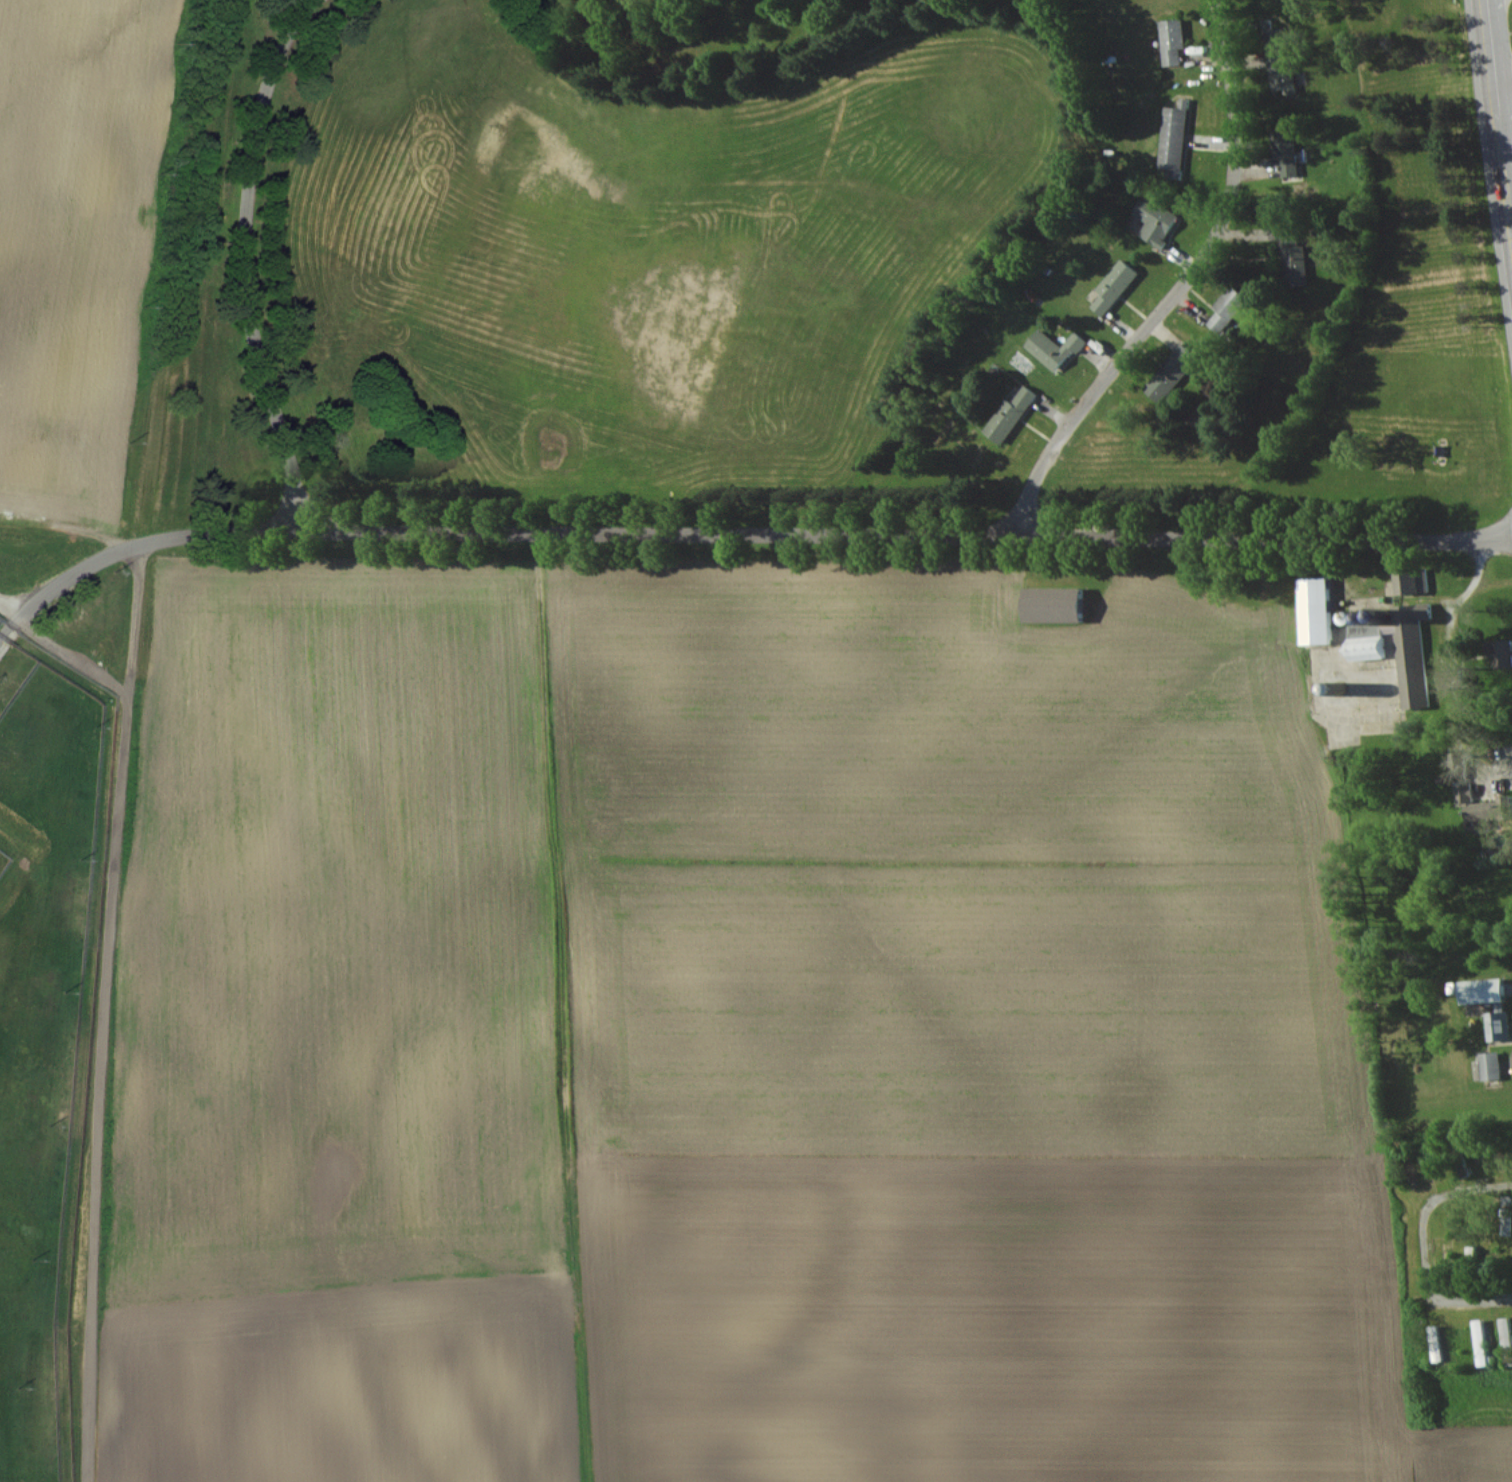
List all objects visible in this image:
building: (1283, 58)
road: (1503, 89)
road: (1497, 120)
building: (1177, 138)
road: (240, 260)
road: (1178, 284)
building: (1232, 307)
building: (1176, 372)
road: (750, 533)
building: (1059, 605)
building: (1317, 609)
road: (11, 611)
road: (8, 635)
building: (1371, 643)
road: (72, 658)
road: (103, 1013)
road: (1423, 1247)
building: (1508, 1340)
building: (1483, 1343)

